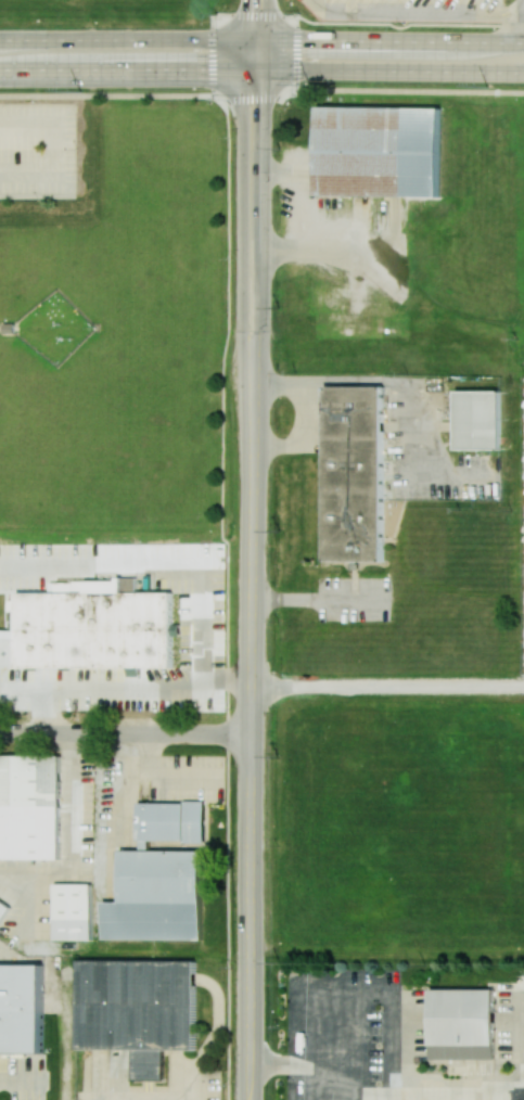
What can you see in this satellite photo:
road: (250, 14)
road: (414, 15)
road: (254, 20)
road: (520, 21)
road: (408, 24)
road: (126, 40)
traffic signals: (254, 40)
road: (388, 40)
road: (248, 55)
road: (259, 55)
road: (122, 71)
traffic signals: (244, 71)
road: (254, 71)
traffic signals: (265, 71)
road: (394, 71)
power tower: (307, 82)
road: (365, 89)
power tower: (80, 90)
road: (106, 94)
building: (375, 151)
road: (56, 153)
road: (302, 208)
road: (243, 258)
road: (264, 258)
building: (478, 420)
building: (353, 473)
road: (93, 560)
road: (227, 598)
building: (93, 626)
road: (232, 687)
road: (388, 687)
road: (47, 720)
road: (126, 733)
road: (252, 773)
building: (30, 807)
building: (163, 820)
road: (71, 840)
building: (3, 910)
building: (74, 911)
building: (21, 1008)
building: (137, 1009)
building: (463, 1018)
road: (311, 1069)
road: (445, 1096)

